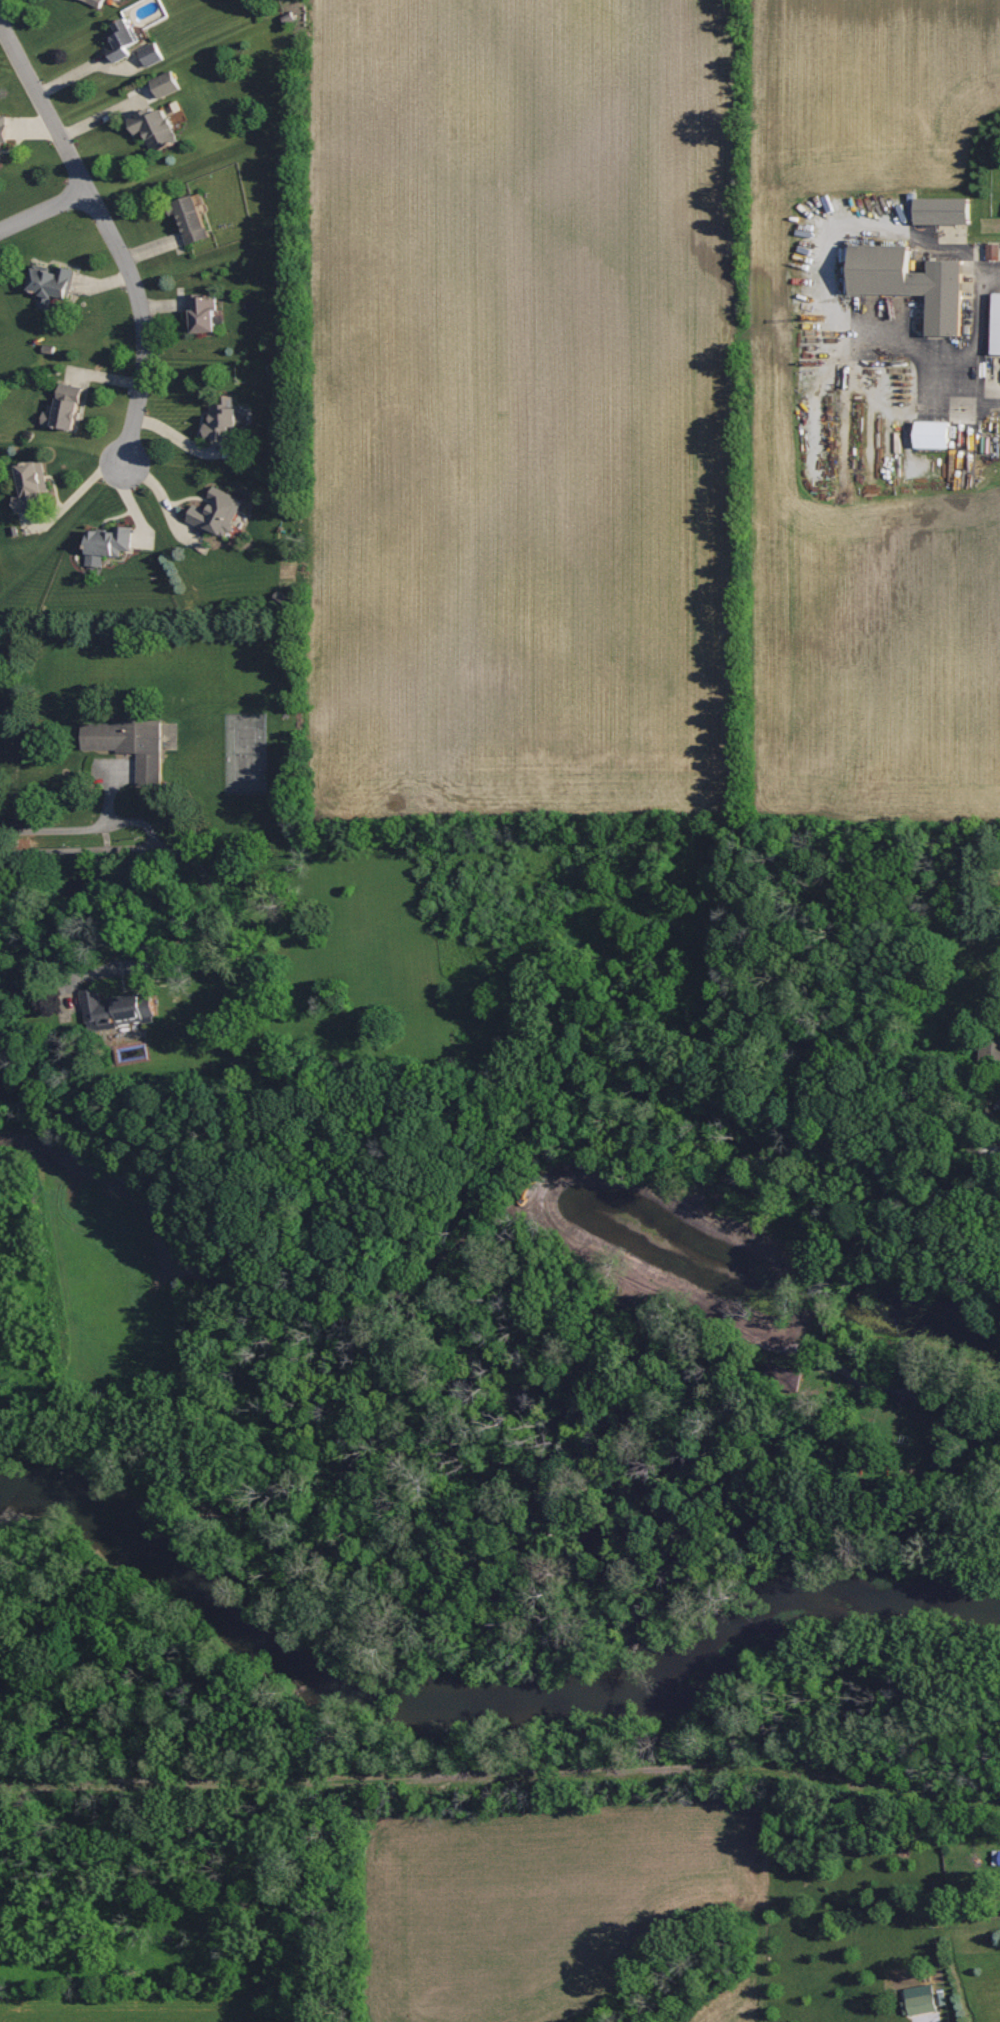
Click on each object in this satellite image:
building: (96, 2)
building: (121, 40)
building: (151, 55)
building: (165, 85)
building: (155, 129)
building: (3, 132)
road: (43, 210)
building: (944, 211)
building: (191, 220)
road: (110, 233)
building: (993, 252)
building: (912, 284)
building: (52, 285)
building: (203, 314)
building: (996, 325)
road: (979, 339)
building: (65, 408)
building: (222, 421)
building: (934, 436)
building: (30, 487)
building: (217, 513)
building: (107, 545)
building: (129, 745)
road: (153, 839)
building: (116, 1009)
building: (777, 1371)
river: (474, 1695)
road: (502, 1776)
road: (893, 1788)
building: (920, 2001)

